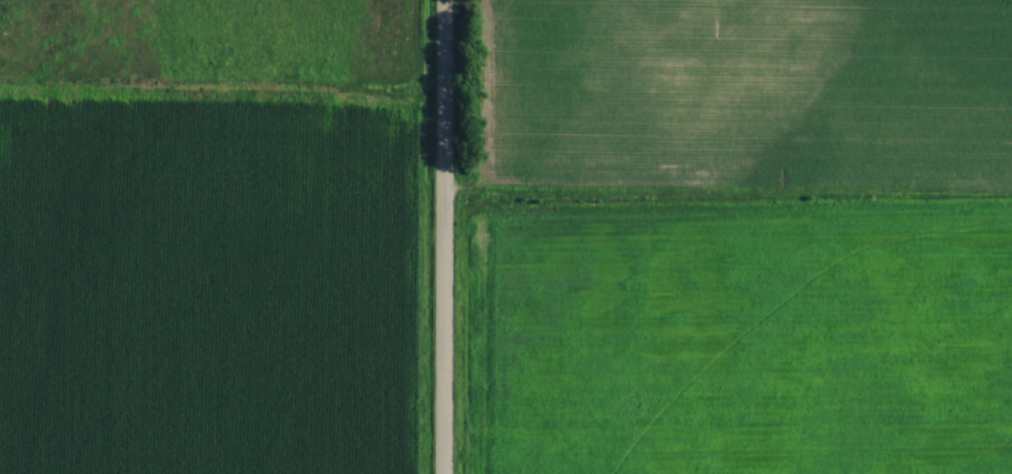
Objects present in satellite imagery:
road: (442, 237)

